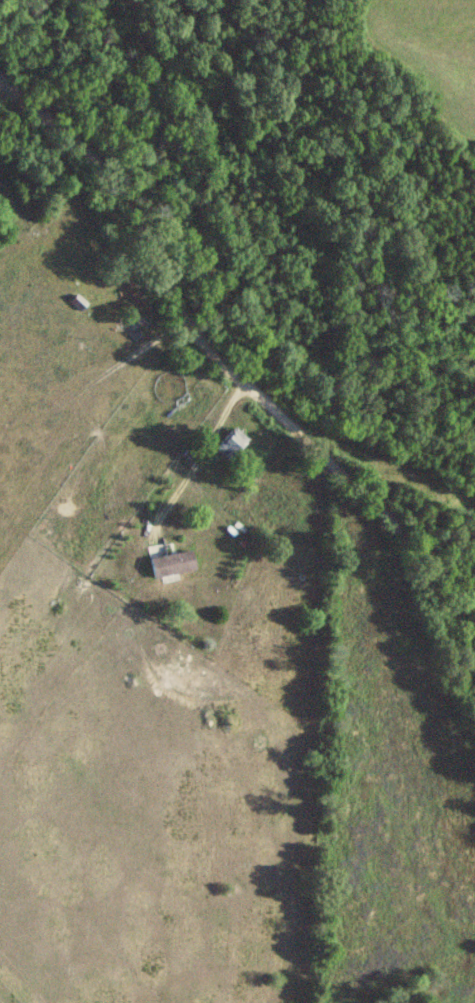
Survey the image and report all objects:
road: (246, 384)
building: (227, 449)
road: (195, 469)
building: (174, 565)

